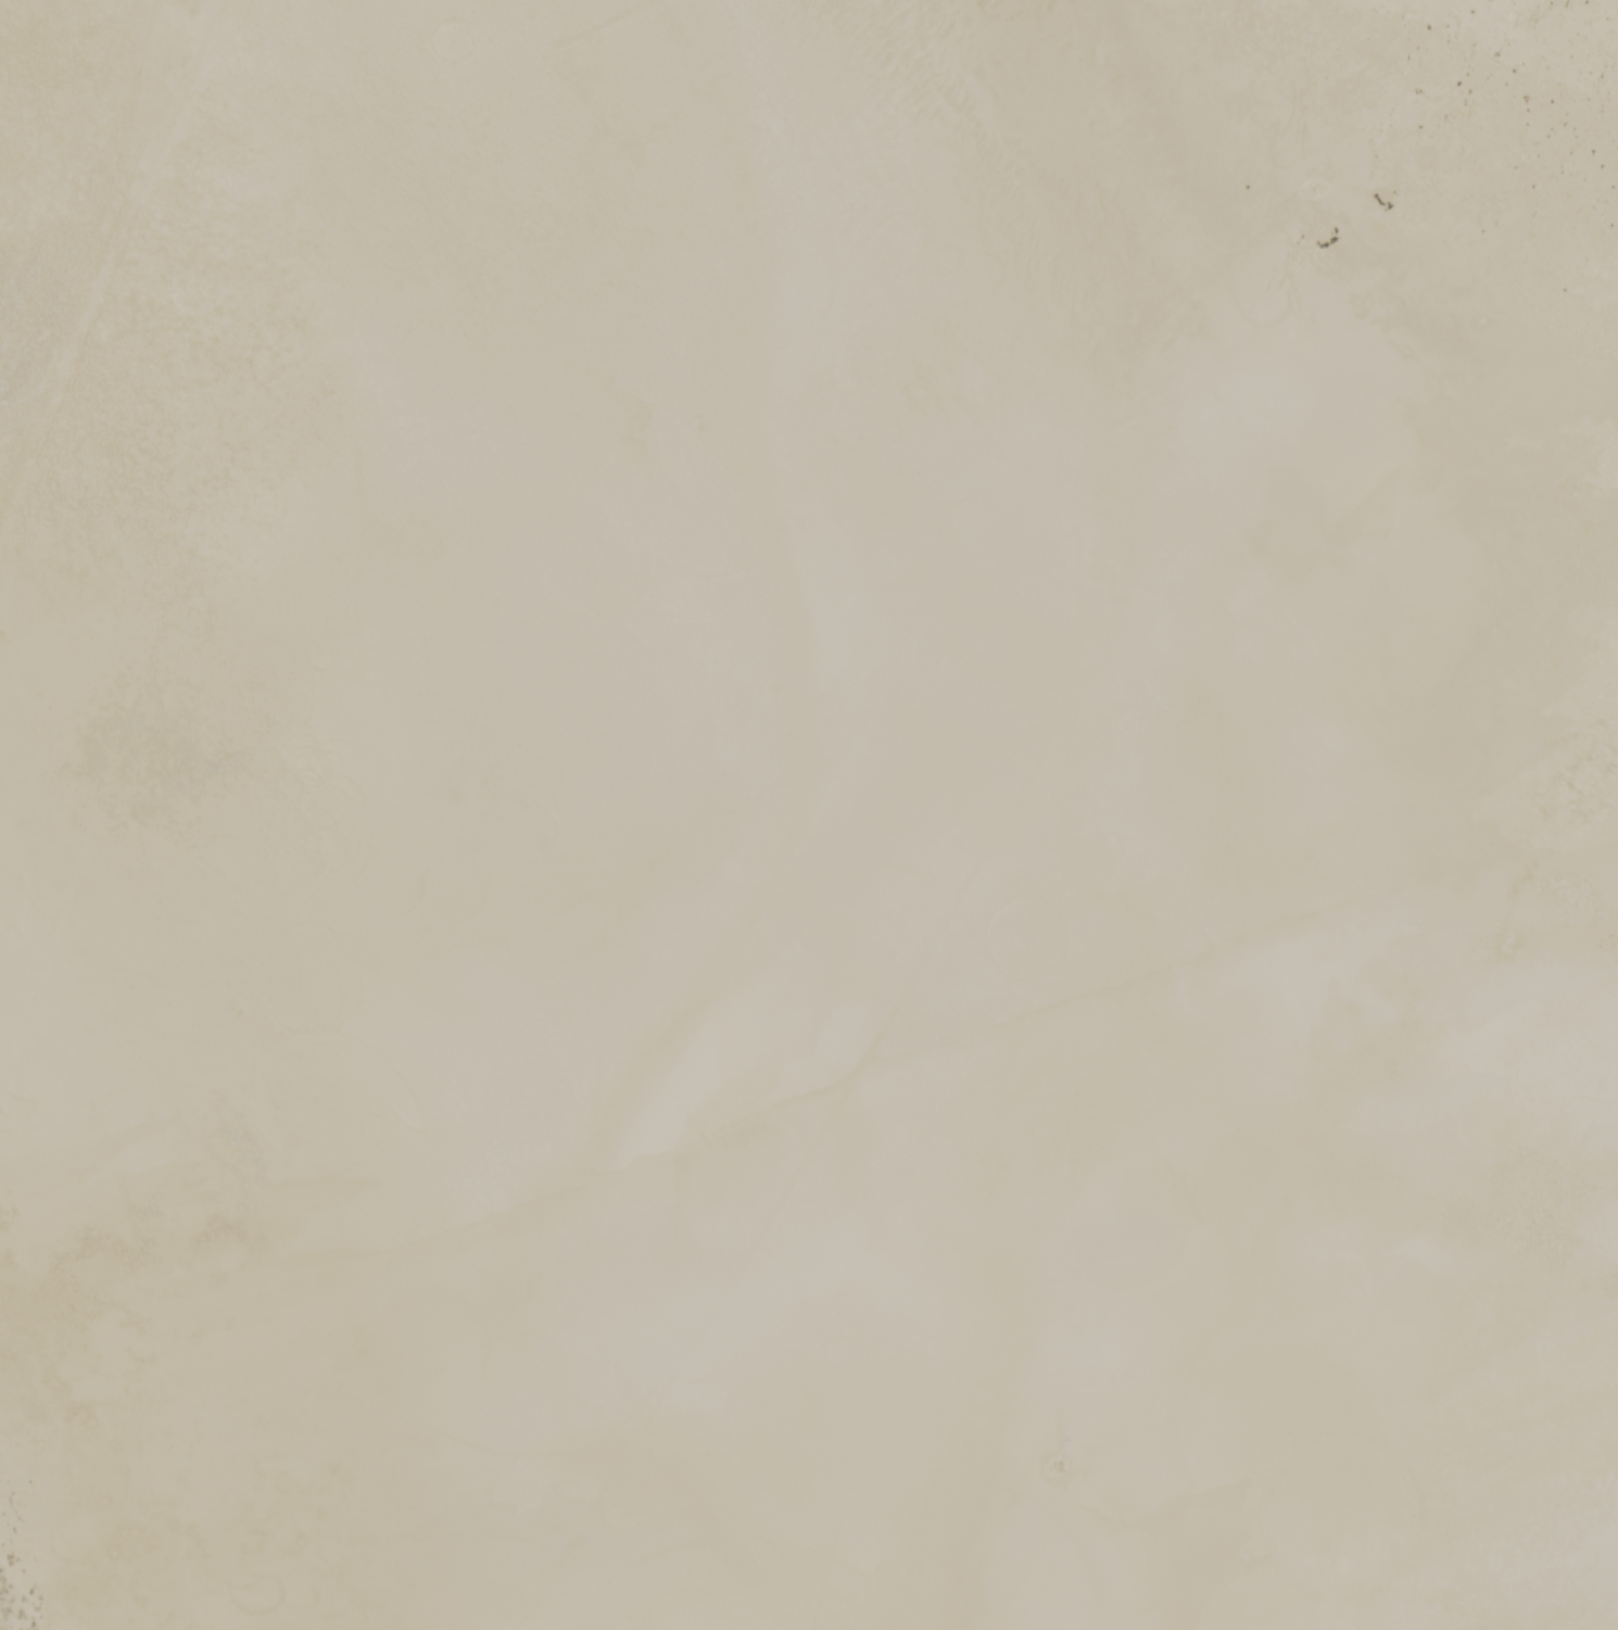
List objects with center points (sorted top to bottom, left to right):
road: (72, 198)

